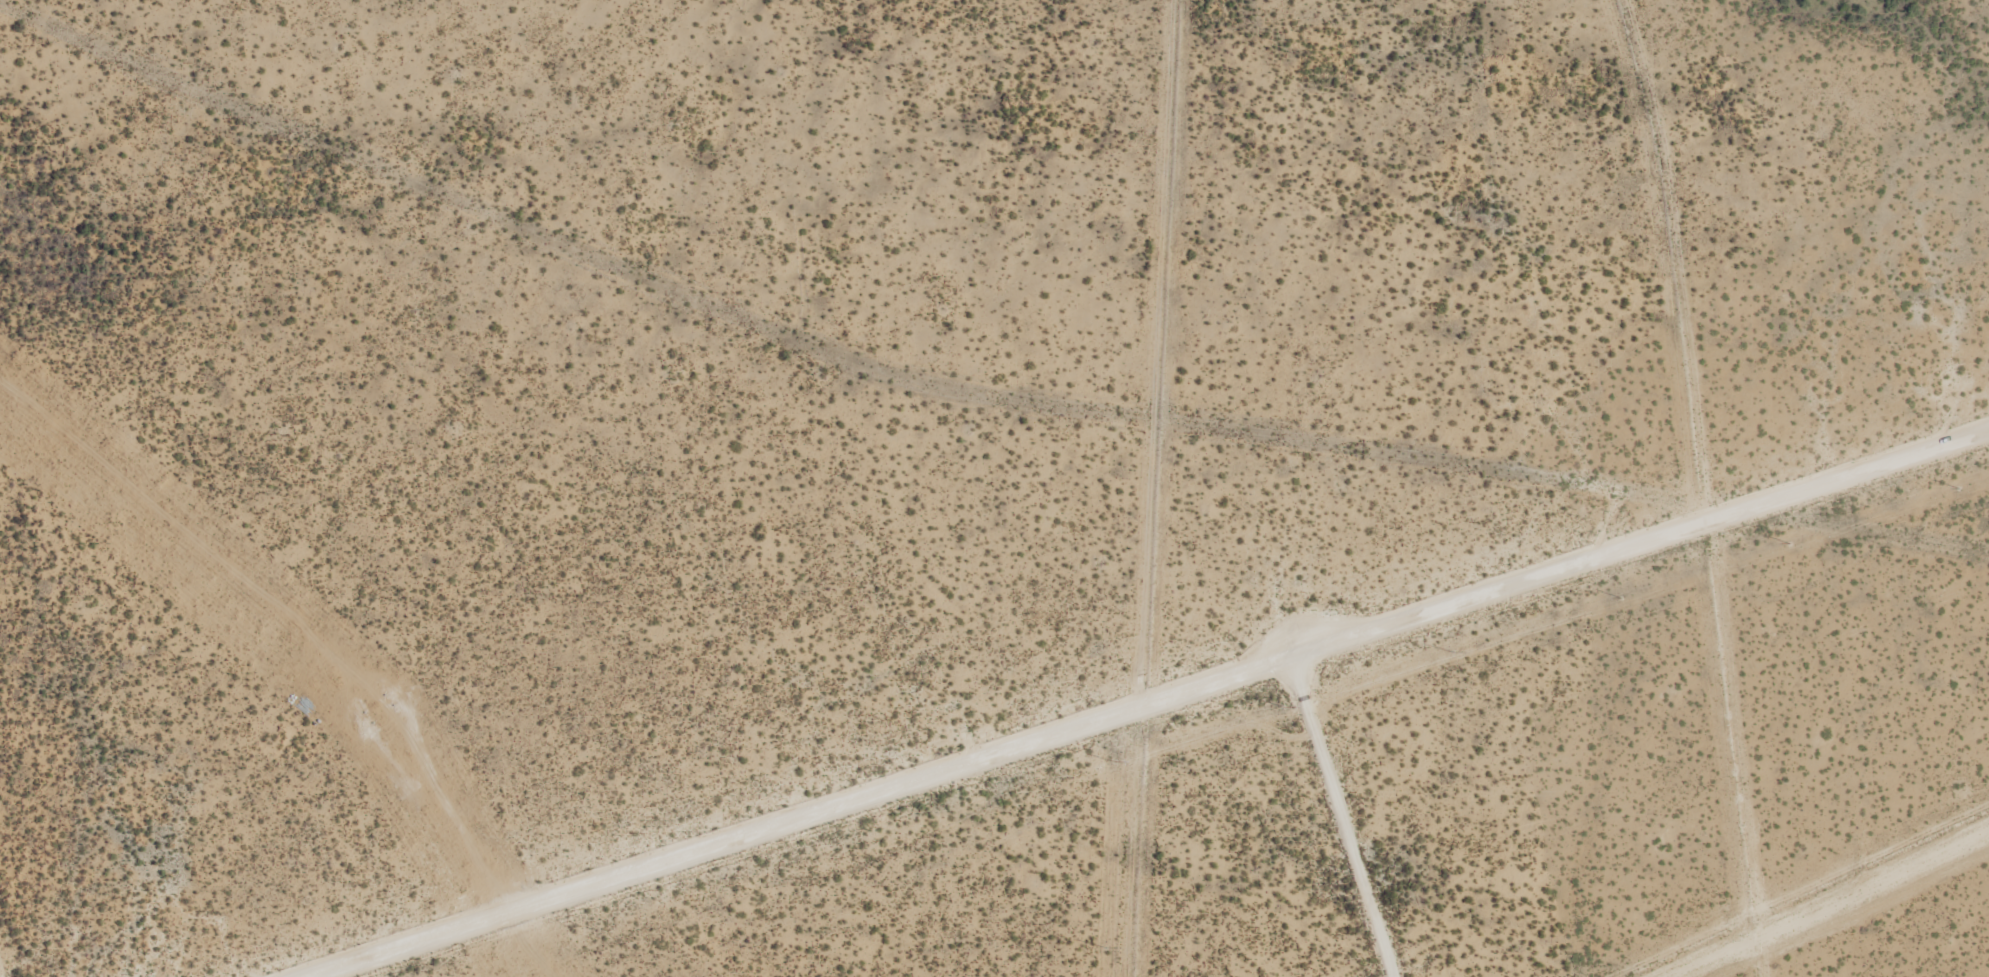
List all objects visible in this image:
road: (958, 402)
road: (1146, 702)
power tower: (379, 711)
road: (1262, 716)
road: (1341, 816)

